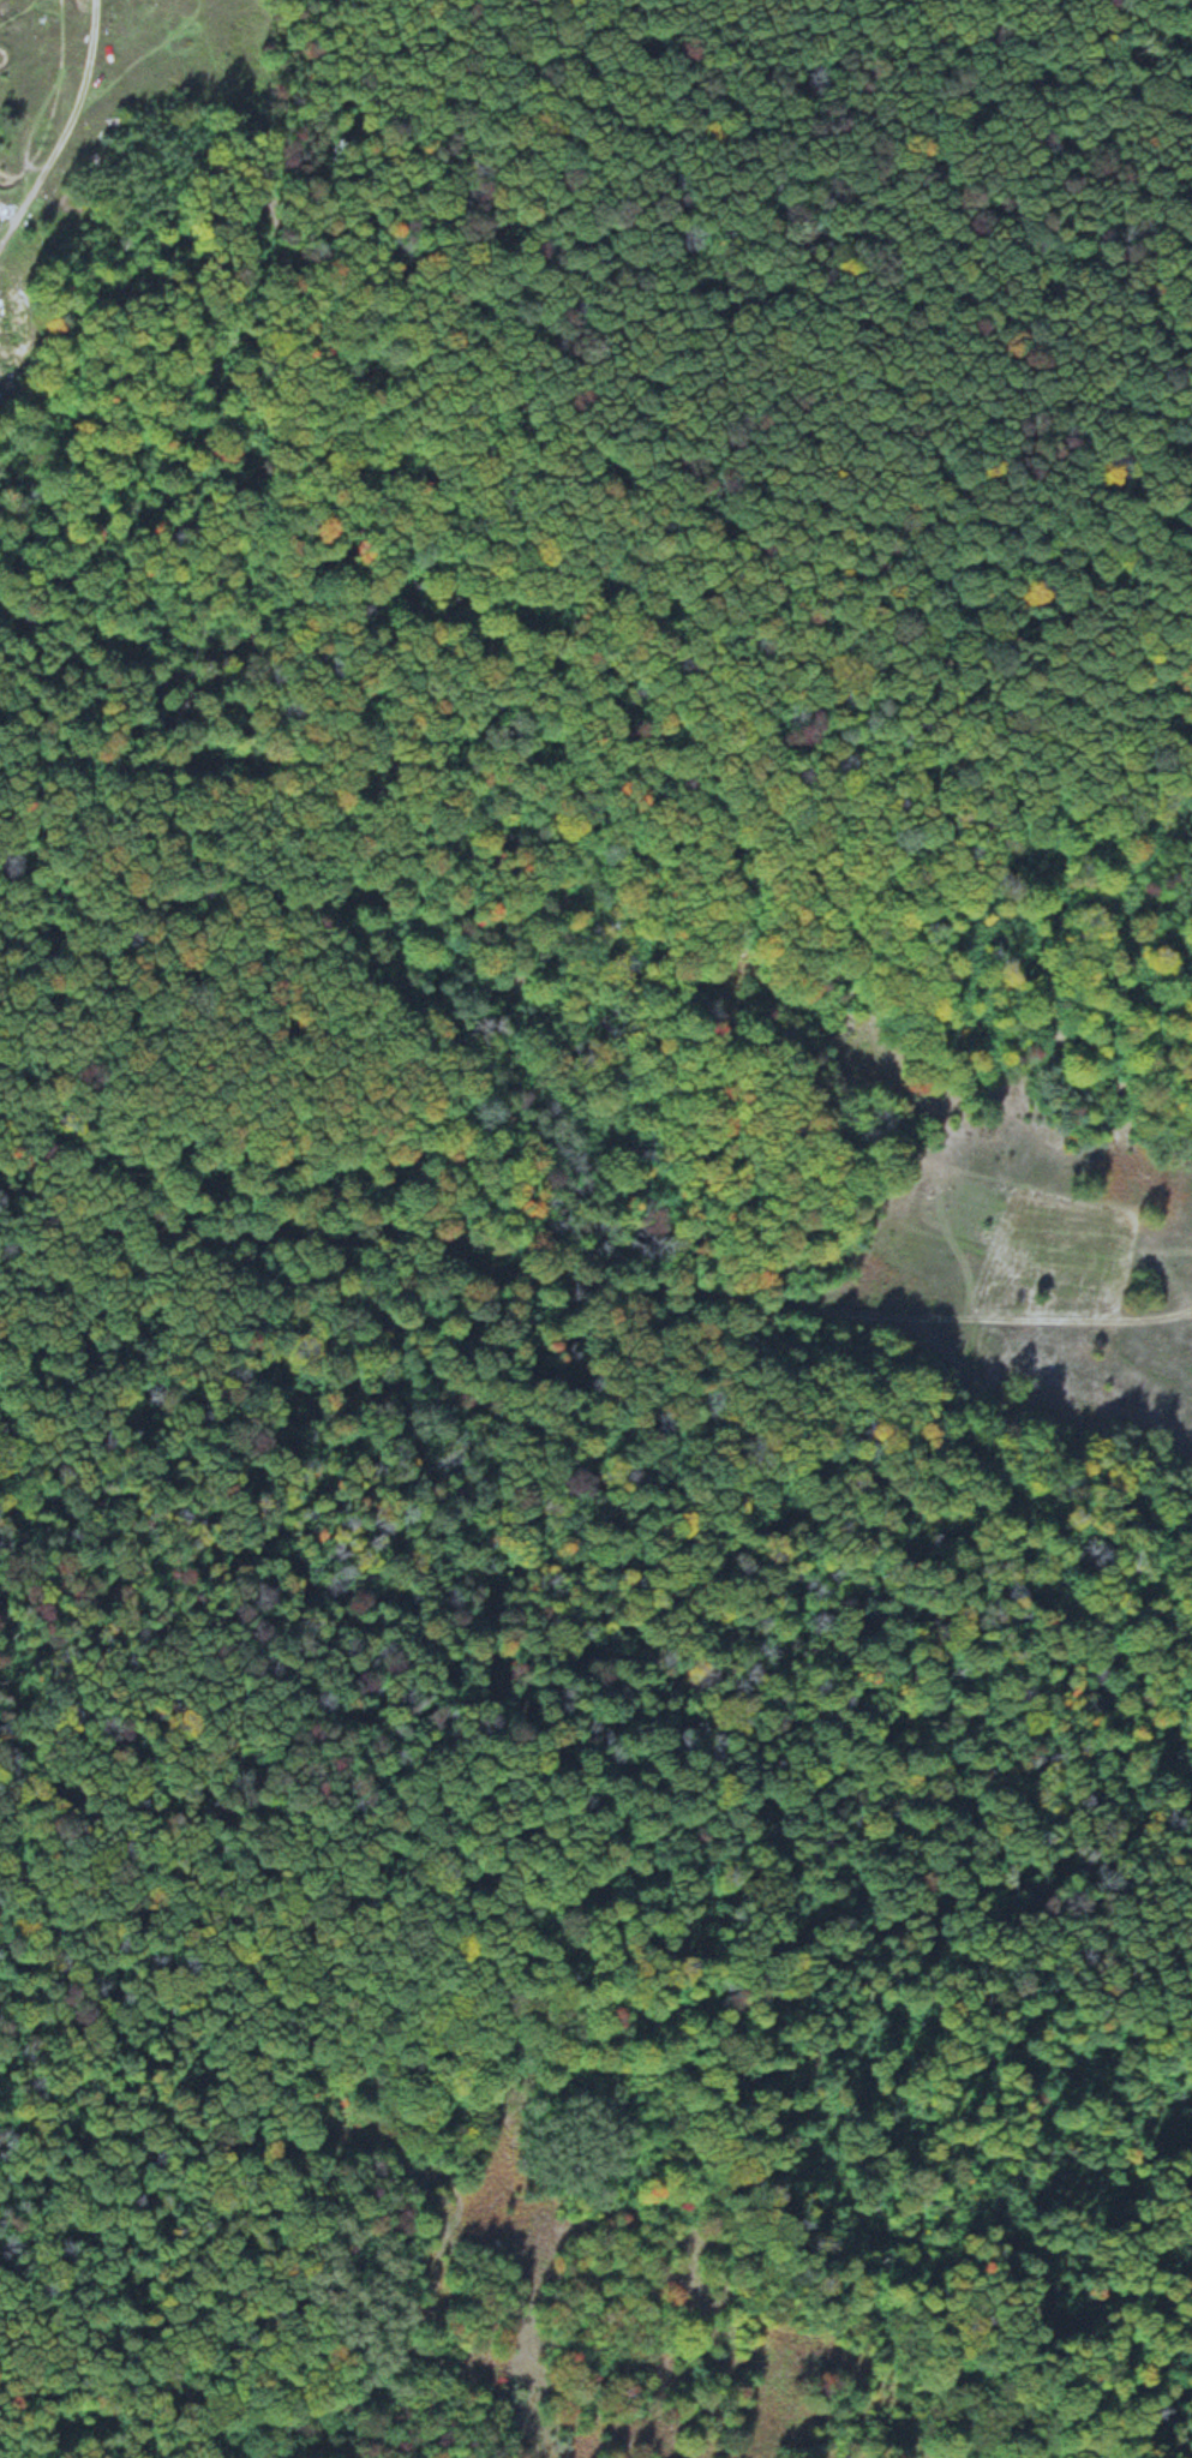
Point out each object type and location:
road: (586, 1276)

